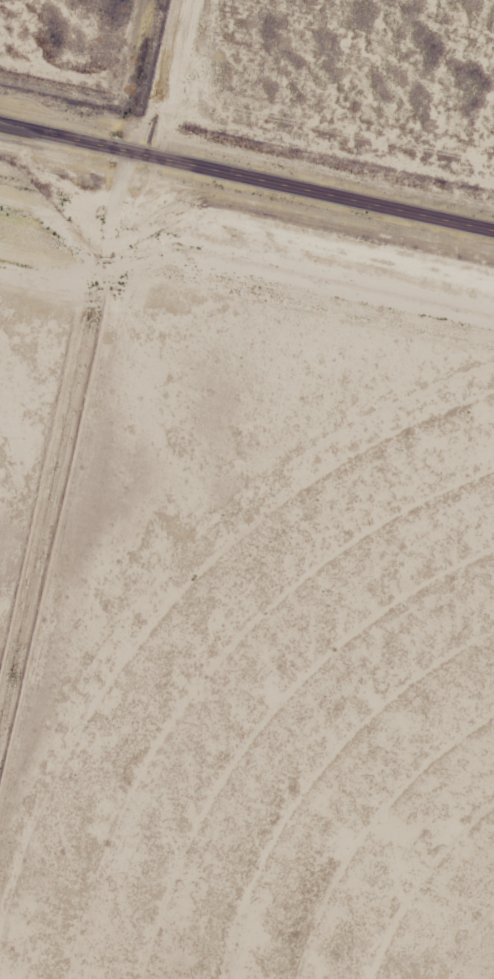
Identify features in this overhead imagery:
road: (246, 178)
road: (89, 415)

